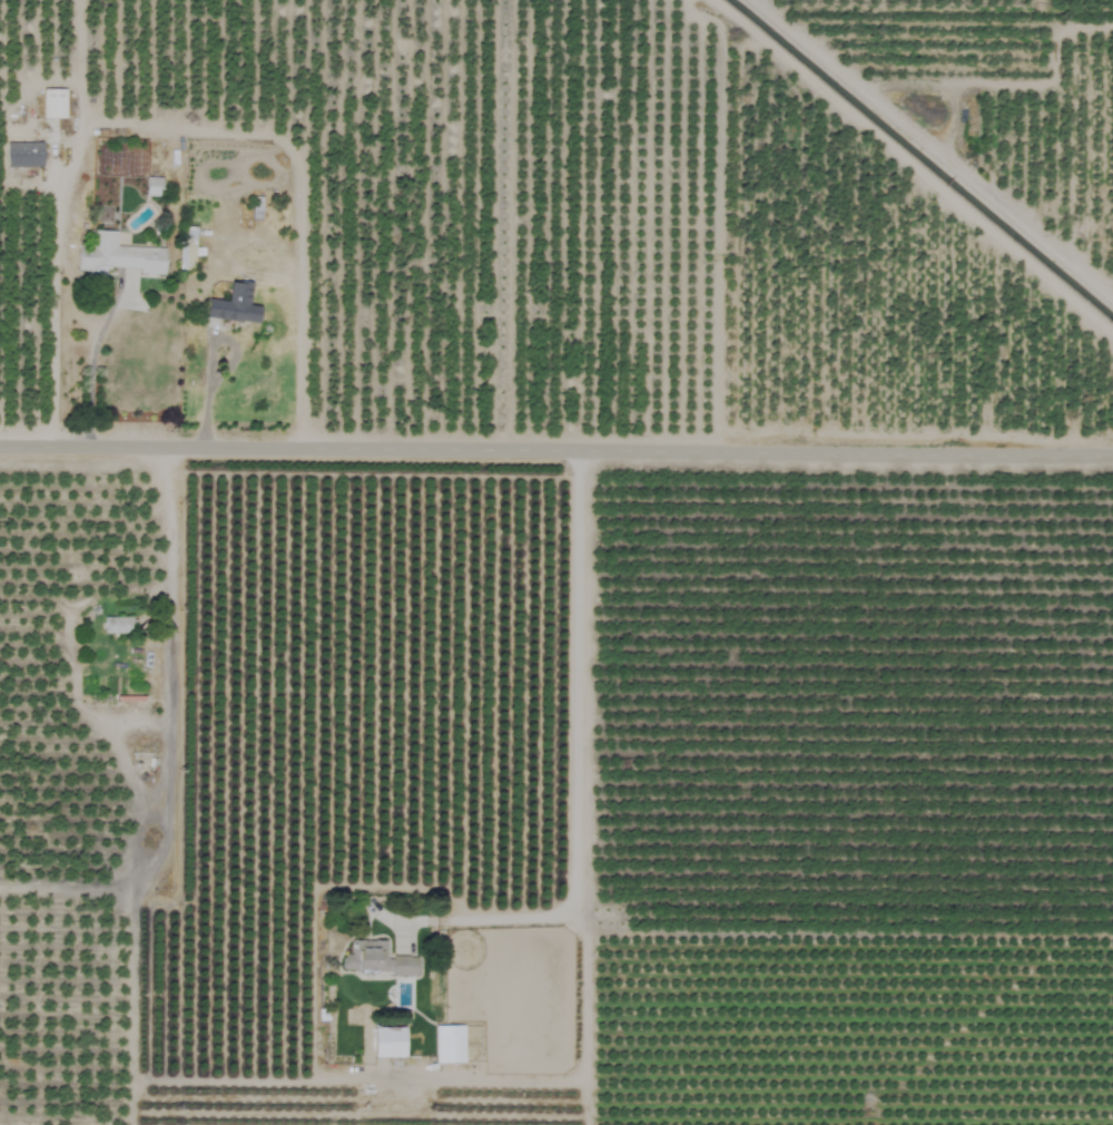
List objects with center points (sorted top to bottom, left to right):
building: (52, 104)
road: (173, 135)
building: (22, 155)
building: (152, 186)
building: (186, 247)
building: (116, 256)
building: (232, 305)
road: (90, 373)
road: (203, 394)
road: (556, 447)
crop: (556, 562)
road: (167, 586)
building: (118, 625)
road: (578, 740)
building: (374, 959)
building: (387, 1043)
building: (447, 1045)
road: (573, 1079)

